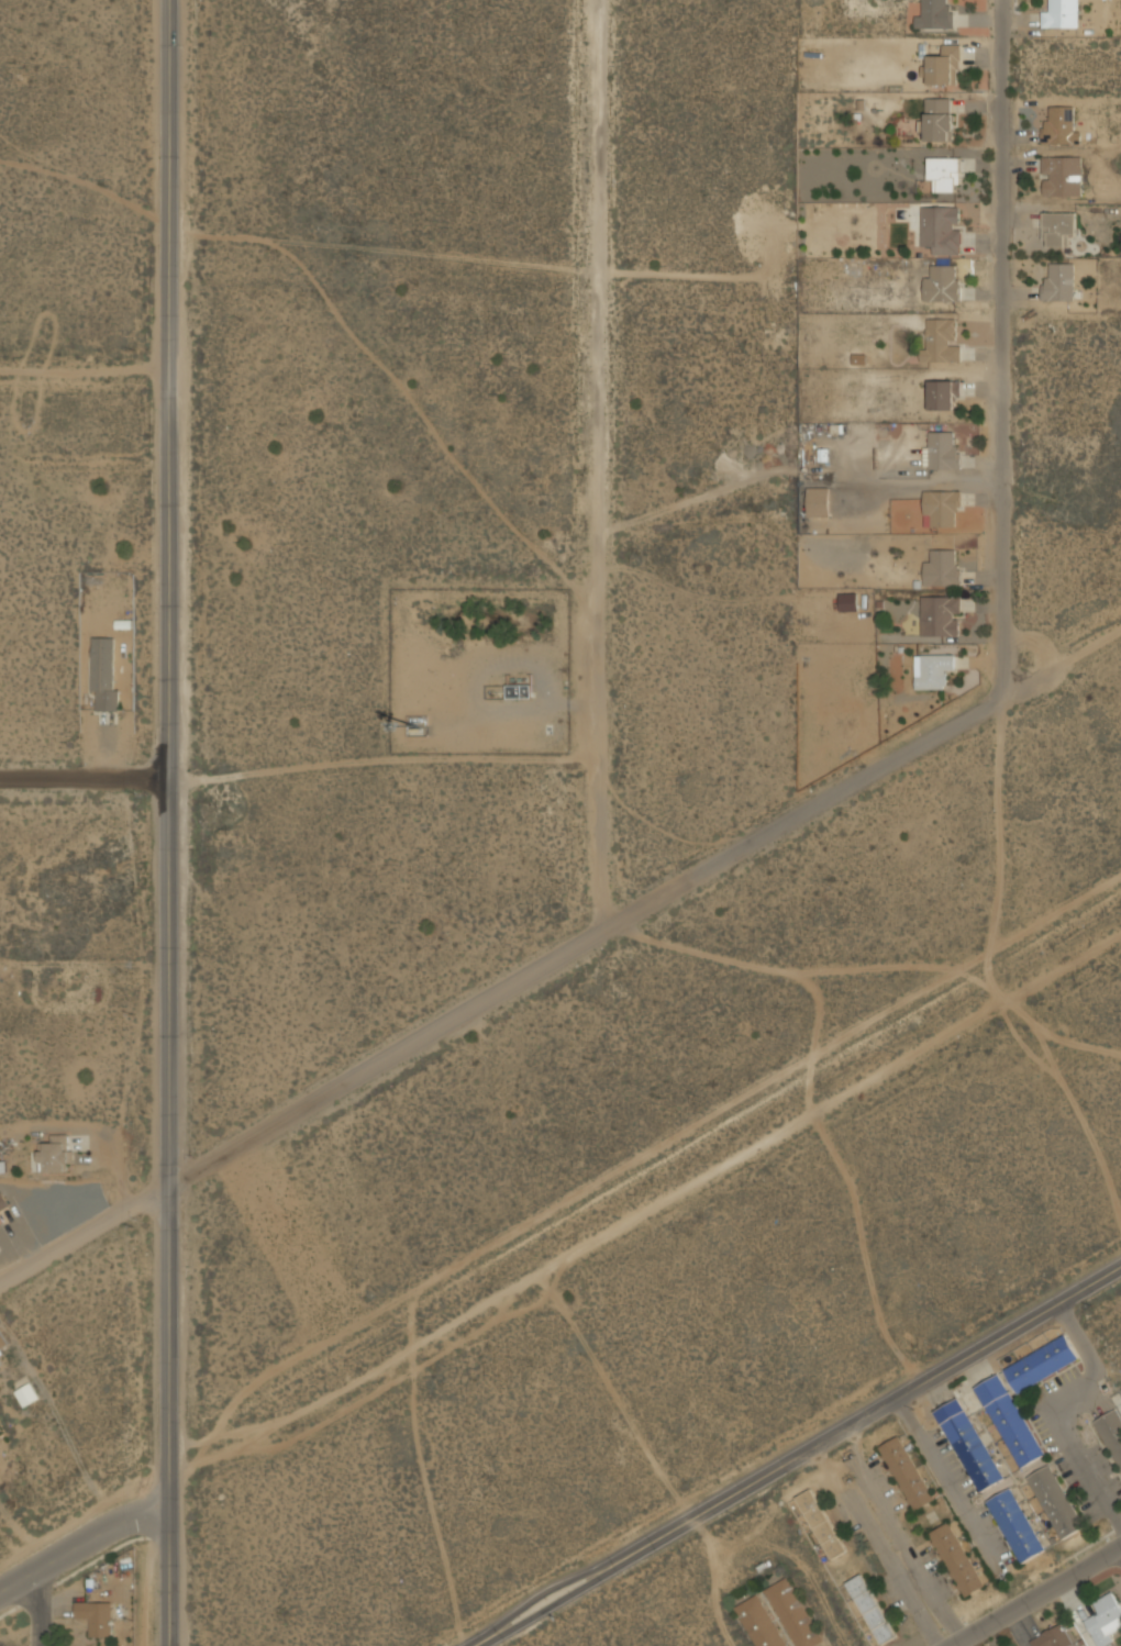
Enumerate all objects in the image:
building: (1061, 13)
building: (935, 14)
building: (944, 65)
building: (937, 119)
building: (1059, 125)
building: (941, 176)
building: (1061, 176)
building: (940, 229)
building: (1058, 230)
building: (941, 282)
building: (1058, 282)
building: (942, 340)
road: (1002, 348)
road: (85, 367)
building: (943, 392)
building: (941, 449)
road: (596, 467)
building: (818, 502)
building: (942, 509)
building: (942, 568)
building: (848, 601)
building: (940, 615)
building: (933, 671)
building: (103, 674)
building: (519, 691)
road: (85, 777)
road: (168, 823)
road: (644, 907)
road: (992, 915)
building: (55, 1154)
building: (2, 1202)
road: (643, 1211)
road: (84, 1235)
building: (3, 1343)
building: (1040, 1364)
building: (26, 1394)
building: (1009, 1420)
building: (1111, 1433)
building: (968, 1444)
road: (798, 1458)
building: (906, 1472)
road: (944, 1478)
building: (1055, 1501)
building: (821, 1523)
building: (1015, 1525)
road: (902, 1536)
road: (84, 1543)
building: (956, 1559)
road: (1035, 1595)
road: (41, 1608)
building: (870, 1609)
building: (792, 1613)
building: (95, 1616)
building: (1105, 1620)
building: (759, 1622)
building: (1052, 1637)

